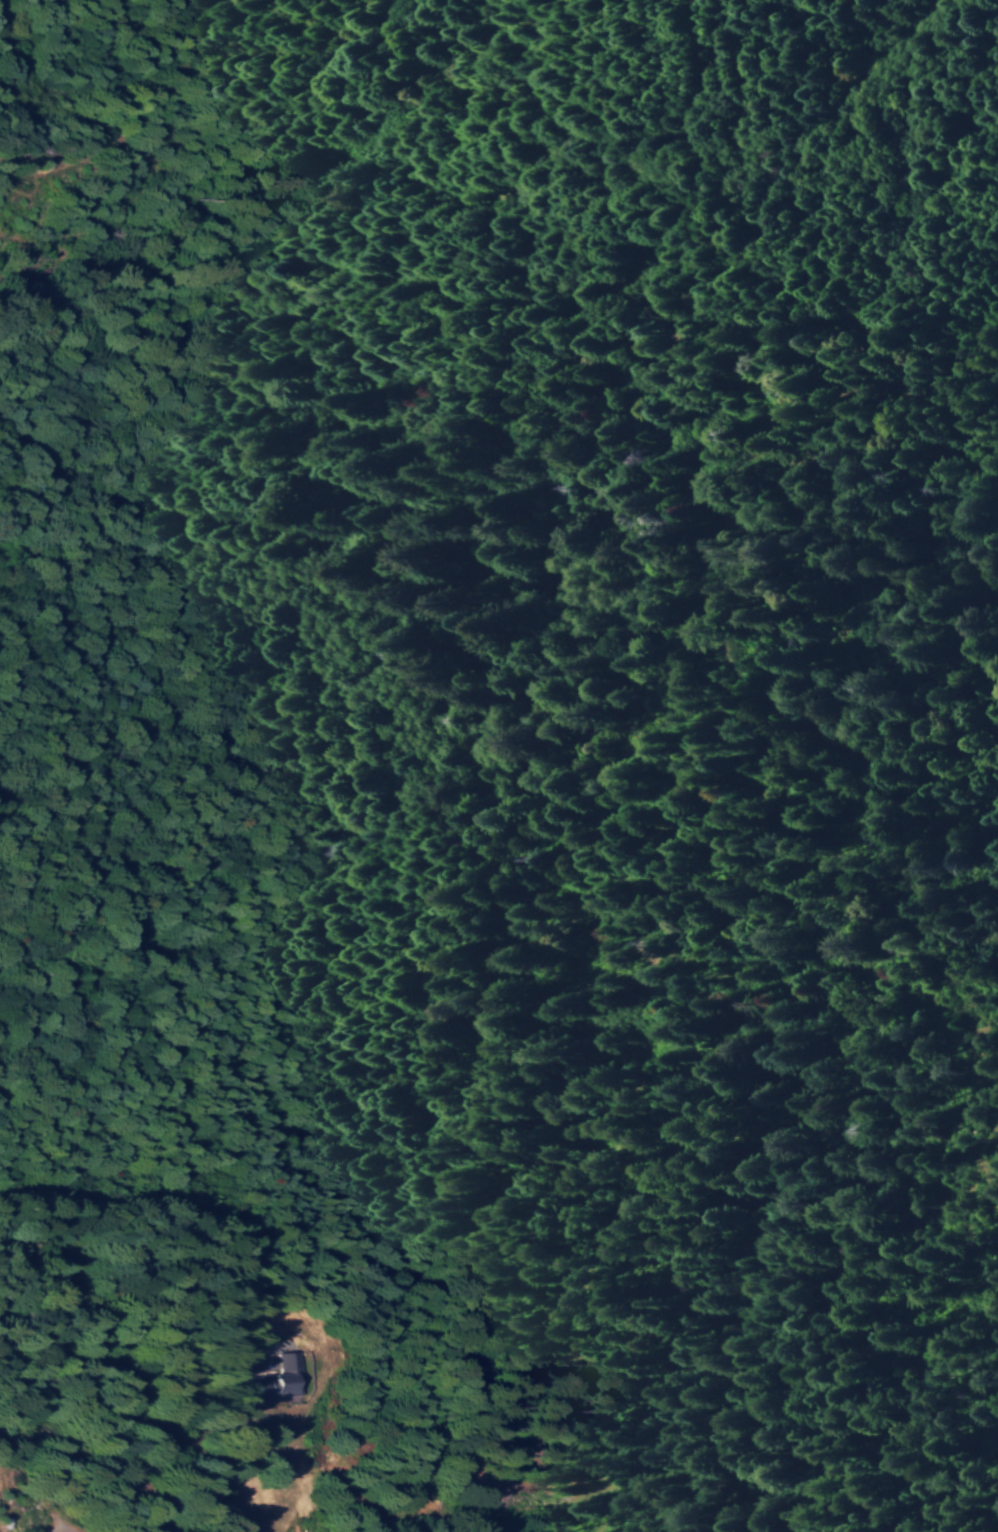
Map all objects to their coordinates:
road: (23, 1451)

